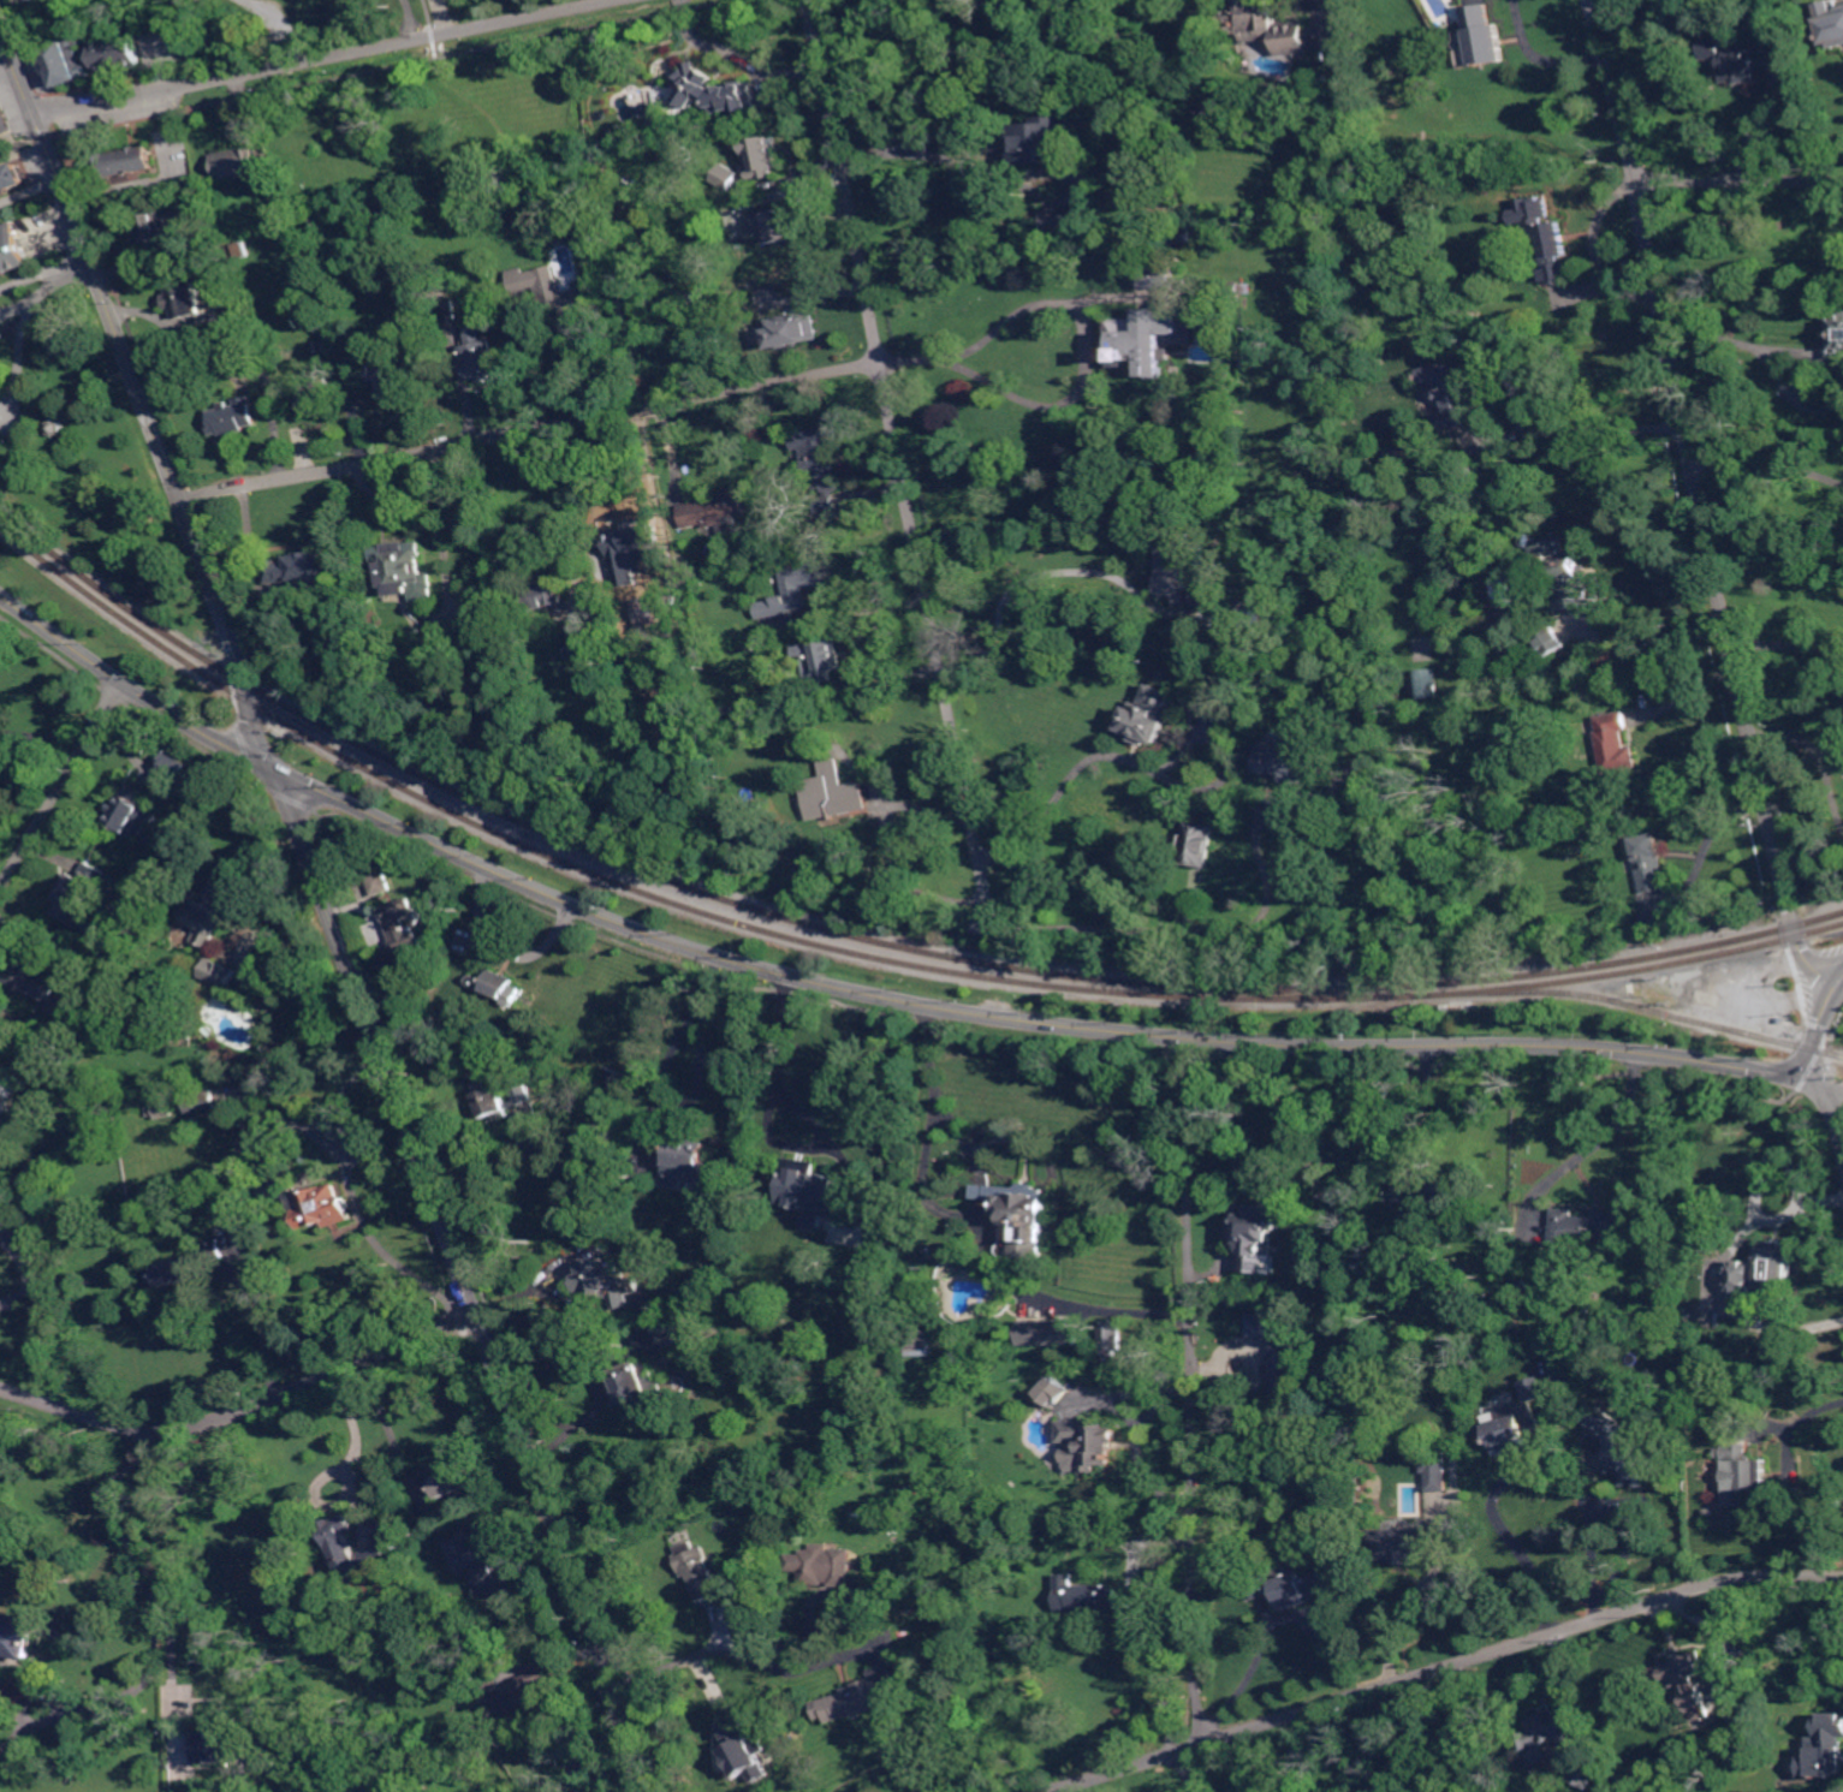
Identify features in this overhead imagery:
road: (441, 17)
building: (1268, 26)
building: (1832, 28)
building: (1482, 40)
building: (117, 53)
road: (1540, 56)
road: (326, 58)
building: (1741, 58)
road: (6, 62)
building: (69, 64)
building: (717, 93)
building: (5, 118)
road: (1752, 124)
building: (1044, 141)
road: (915, 151)
building: (765, 156)
building: (124, 162)
building: (236, 163)
building: (12, 175)
building: (726, 175)
road: (1737, 180)
road: (30, 190)
building: (1074, 218)
building: (777, 226)
building: (155, 230)
building: (188, 231)
building: (12, 249)
building: (1552, 249)
building: (242, 250)
road: (1599, 252)
road: (76, 264)
building: (1258, 266)
road: (30, 274)
building: (255, 284)
road: (36, 296)
building: (559, 296)
building: (185, 299)
building: (237, 304)
building: (451, 311)
building: (1166, 321)
building: (793, 331)
road: (1711, 334)
building: (1837, 335)
building: (320, 347)
road: (1805, 351)
building: (480, 357)
road: (20, 358)
building: (1252, 363)
building: (391, 377)
road: (1082, 379)
building: (1456, 391)
building: (321, 395)
road: (1790, 395)
building: (234, 416)
building: (55, 428)
road: (530, 428)
road: (1579, 430)
road: (900, 460)
building: (821, 466)
road: (1767, 468)
road: (405, 493)
road: (567, 495)
road: (1696, 500)
building: (720, 511)
building: (638, 554)
building: (1173, 565)
building: (402, 566)
building: (301, 568)
road: (1057, 572)
building: (1563, 573)
building: (793, 589)
building: (546, 595)
road: (863, 608)
building: (646, 611)
building: (493, 614)
building: (1254, 615)
road: (1657, 635)
building: (1551, 641)
building: (584, 643)
road: (1788, 644)
building: (824, 657)
building: (1426, 684)
road: (1687, 695)
building: (1221, 702)
building: (1153, 715)
road: (41, 736)
building: (1615, 744)
road: (1801, 745)
building: (1322, 750)
building: (1289, 762)
building: (174, 766)
road: (61, 782)
building: (213, 782)
building: (840, 790)
road: (1057, 794)
building: (131, 814)
road: (1712, 829)
road: (890, 844)
building: (1201, 844)
building: (1649, 863)
building: (381, 883)
building: (83, 898)
building: (214, 905)
road: (326, 907)
building: (1634, 915)
building: (403, 924)
road: (1205, 930)
railway: (872, 940)
road: (499, 948)
railway: (870, 957)
building: (219, 972)
building: (28, 976)
road: (1838, 980)
building: (498, 984)
road: (851, 987)
building: (1631, 989)
railway: (1272, 994)
railway: (1628, 1005)
road: (1813, 1030)
building: (82, 1032)
building: (179, 1032)
road: (702, 1071)
road: (780, 1074)
building: (614, 1079)
road: (1817, 1083)
road: (937, 1096)
building: (501, 1099)
building: (202, 1101)
building: (43, 1107)
building: (161, 1108)
road: (1417, 1111)
building: (0, 1112)
road: (1227, 1114)
road: (1837, 1120)
road: (1601, 1138)
building: (685, 1161)
road: (488, 1175)
building: (37, 1179)
building: (810, 1187)
building: (1447, 1192)
building: (1415, 1197)
building: (326, 1207)
building: (1022, 1216)
building: (814, 1221)
building: (0, 1222)
building: (1591, 1225)
building: (36, 1232)
building: (1259, 1237)
building: (8, 1255)
building: (1766, 1269)
building: (177, 1270)
road: (1720, 1273)
building: (602, 1278)
road: (26, 1291)
road: (1107, 1309)
building: (1694, 1316)
road: (260, 1322)
building: (673, 1324)
building: (1260, 1326)
building: (1048, 1333)
building: (1111, 1338)
building: (802, 1342)
building: (920, 1344)
building: (1290, 1379)
building: (1551, 1381)
building: (637, 1385)
building: (1052, 1389)
road: (1194, 1395)
road: (243, 1407)
road: (1803, 1416)
building: (1518, 1422)
building: (1089, 1441)
road: (185, 1442)
road: (1132, 1443)
road: (357, 1446)
building: (1627, 1453)
building: (1435, 1470)
building: (1742, 1474)
building: (453, 1480)
road: (1496, 1501)
road: (1622, 1501)
building: (1438, 1511)
building: (1105, 1537)
building: (343, 1540)
building: (1407, 1543)
building: (375, 1558)
building: (824, 1565)
building: (482, 1566)
building: (700, 1570)
building: (1290, 1585)
road: (170, 1592)
building: (879, 1596)
building: (1087, 1596)
road: (155, 1602)
road: (1398, 1617)
building: (18, 1637)
road: (751, 1657)
road: (1443, 1668)
building: (1690, 1681)
building: (491, 1683)
building: (535, 1695)
building: (861, 1696)
building: (1740, 1715)
building: (1548, 1734)
building: (227, 1737)
building: (1825, 1749)
road: (590, 1750)
building: (743, 1751)
road: (1193, 1772)
building: (1586, 1776)

